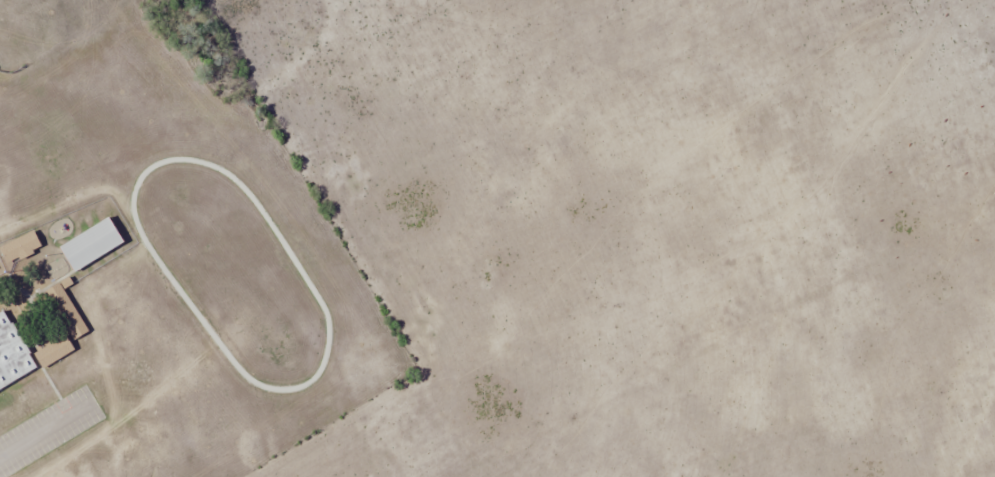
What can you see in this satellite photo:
park: (49, 29)
building: (91, 244)
building: (66, 312)
building: (53, 350)
building: (14, 364)

